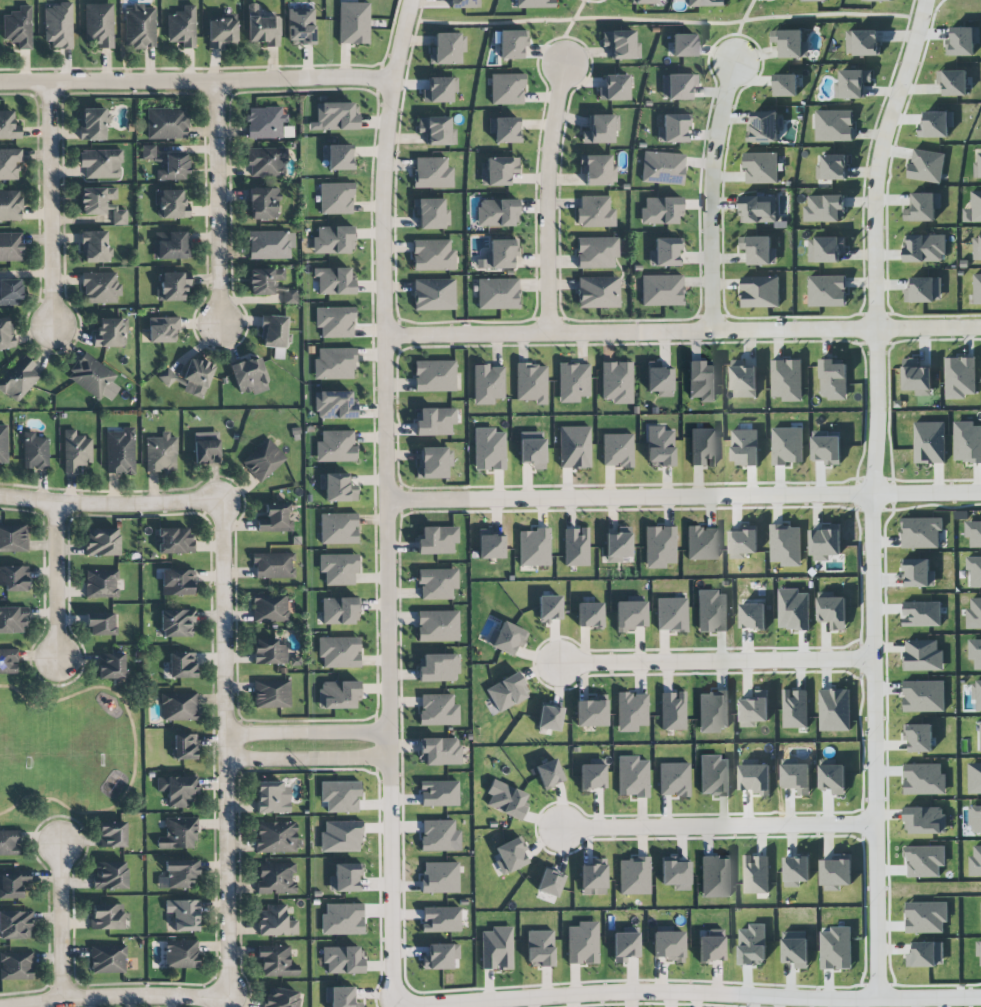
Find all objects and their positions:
building: (815, 0)
building: (878, 0)
building: (644, 1)
building: (534, 3)
building: (705, 3)
building: (463, 4)
road: (935, 12)
road: (665, 21)
building: (353, 23)
building: (99, 24)
building: (58, 26)
building: (300, 26)
building: (18, 27)
building: (139, 27)
building: (182, 27)
road: (931, 27)
building: (262, 28)
road: (740, 30)
road: (567, 31)
building: (222, 33)
building: (963, 41)
building: (791, 43)
building: (863, 43)
building: (511, 44)
building: (621, 44)
building: (683, 45)
building: (447, 48)
road: (196, 82)
building: (954, 82)
building: (852, 84)
building: (786, 85)
building: (680, 86)
building: (614, 88)
building: (507, 89)
building: (440, 90)
building: (336, 116)
building: (166, 123)
building: (267, 123)
building: (937, 124)
building: (8, 126)
building: (835, 126)
building: (764, 127)
building: (673, 128)
building: (504, 129)
building: (600, 129)
building: (436, 130)
building: (148, 152)
building: (338, 156)
building: (266, 162)
building: (9, 163)
building: (100, 163)
building: (927, 166)
building: (174, 167)
building: (833, 167)
building: (662, 168)
building: (761, 168)
building: (977, 169)
building: (498, 170)
building: (597, 170)
building: (432, 173)
road: (710, 197)
building: (335, 198)
road: (546, 200)
road: (218, 202)
building: (264, 203)
building: (102, 204)
building: (170, 204)
building: (10, 205)
road: (51, 205)
building: (923, 207)
building: (825, 208)
building: (759, 209)
building: (974, 209)
building: (660, 210)
building: (496, 212)
building: (594, 212)
building: (431, 213)
building: (333, 240)
building: (170, 245)
building: (270, 245)
building: (11, 247)
building: (95, 247)
building: (925, 248)
building: (977, 248)
building: (826, 249)
building: (759, 250)
building: (596, 252)
building: (665, 252)
building: (500, 253)
building: (432, 255)
building: (264, 280)
building: (334, 281)
building: (172, 286)
building: (100, 288)
building: (977, 289)
building: (661, 290)
building: (925, 290)
building: (827, 291)
building: (10, 292)
building: (598, 292)
building: (761, 292)
building: (434, 294)
building: (290, 296)
building: (335, 322)
building: (162, 329)
building: (273, 331)
building: (110, 332)
building: (5, 333)
road: (683, 334)
building: (334, 363)
building: (249, 376)
building: (434, 376)
building: (166, 377)
building: (196, 377)
building: (917, 377)
building: (960, 377)
building: (93, 378)
building: (19, 379)
building: (659, 379)
building: (744, 379)
building: (787, 380)
building: (834, 380)
building: (573, 381)
building: (701, 381)
building: (531, 382)
building: (617, 382)
building: (488, 384)
building: (334, 405)
building: (435, 422)
building: (930, 442)
building: (967, 442)
building: (3, 445)
building: (335, 446)
building: (659, 446)
building: (788, 446)
building: (574, 447)
building: (702, 447)
building: (745, 447)
building: (206, 448)
building: (827, 448)
building: (489, 449)
building: (532, 449)
building: (617, 450)
building: (76, 451)
building: (120, 451)
building: (35, 453)
building: (161, 453)
building: (263, 460)
building: (434, 462)
building: (337, 488)
road: (872, 495)
road: (386, 497)
road: (684, 497)
road: (110, 504)
building: (275, 518)
building: (338, 528)
building: (921, 533)
building: (974, 533)
building: (13, 538)
building: (437, 540)
building: (175, 541)
building: (102, 542)
building: (744, 542)
building: (702, 543)
building: (825, 543)
building: (490, 544)
building: (618, 545)
building: (786, 545)
building: (534, 547)
building: (575, 547)
building: (660, 547)
building: (273, 565)
building: (338, 568)
building: (975, 572)
building: (919, 573)
building: (14, 578)
road: (56, 581)
building: (177, 582)
building: (101, 583)
building: (437, 583)
building: (270, 608)
building: (549, 608)
building: (338, 610)
building: (794, 610)
building: (712, 611)
building: (833, 612)
building: (671, 614)
building: (922, 614)
building: (974, 614)
building: (589, 615)
building: (630, 615)
building: (753, 617)
building: (12, 620)
building: (177, 623)
building: (101, 624)
building: (437, 626)
building: (506, 638)
building: (268, 652)
building: (339, 652)
building: (976, 652)
building: (923, 656)
building: (8, 661)
road: (716, 661)
building: (182, 665)
building: (111, 666)
building: (439, 668)
building: (506, 692)
building: (977, 692)
building: (271, 694)
building: (337, 694)
building: (924, 696)
building: (178, 706)
building: (755, 709)
building: (795, 709)
building: (438, 710)
building: (835, 710)
building: (631, 711)
building: (672, 711)
building: (713, 711)
building: (591, 712)
building: (549, 718)
road: (306, 735)
building: (920, 737)
building: (184, 746)
road: (134, 747)
road: (224, 747)
building: (439, 751)
road: (307, 759)
building: (548, 773)
building: (591, 776)
building: (714, 776)
building: (797, 776)
building: (632, 777)
building: (834, 777)
building: (975, 778)
building: (673, 779)
building: (756, 779)
building: (925, 779)
building: (177, 790)
building: (439, 793)
building: (340, 796)
building: (272, 797)
building: (505, 799)
building: (975, 819)
building: (926, 820)
road: (718, 825)
building: (178, 833)
building: (112, 834)
building: (437, 835)
building: (340, 836)
building: (276, 837)
building: (9, 843)
building: (509, 856)
building: (926, 861)
building: (976, 862)
building: (797, 870)
building: (837, 872)
building: (674, 873)
building: (178, 874)
building: (757, 874)
building: (110, 875)
building: (593, 875)
building: (634, 876)
building: (716, 876)
building: (439, 877)
building: (276, 878)
building: (345, 878)
building: (549, 882)
building: (13, 883)
building: (183, 914)
building: (107, 916)
building: (927, 917)
building: (342, 919)
building: (440, 919)
building: (276, 921)
road: (59, 922)
building: (15, 925)
building: (582, 943)
building: (625, 944)
building: (668, 945)
building: (753, 945)
building: (496, 948)
building: (539, 948)
building: (837, 948)
building: (710, 949)
building: (796, 949)
building: (979, 949)
building: (181, 954)
building: (927, 955)
building: (441, 956)
building: (107, 958)
building: (342, 960)
building: (276, 961)
building: (16, 965)
road: (688, 992)
road: (112, 997)
building: (340, 997)
building: (281, 998)

